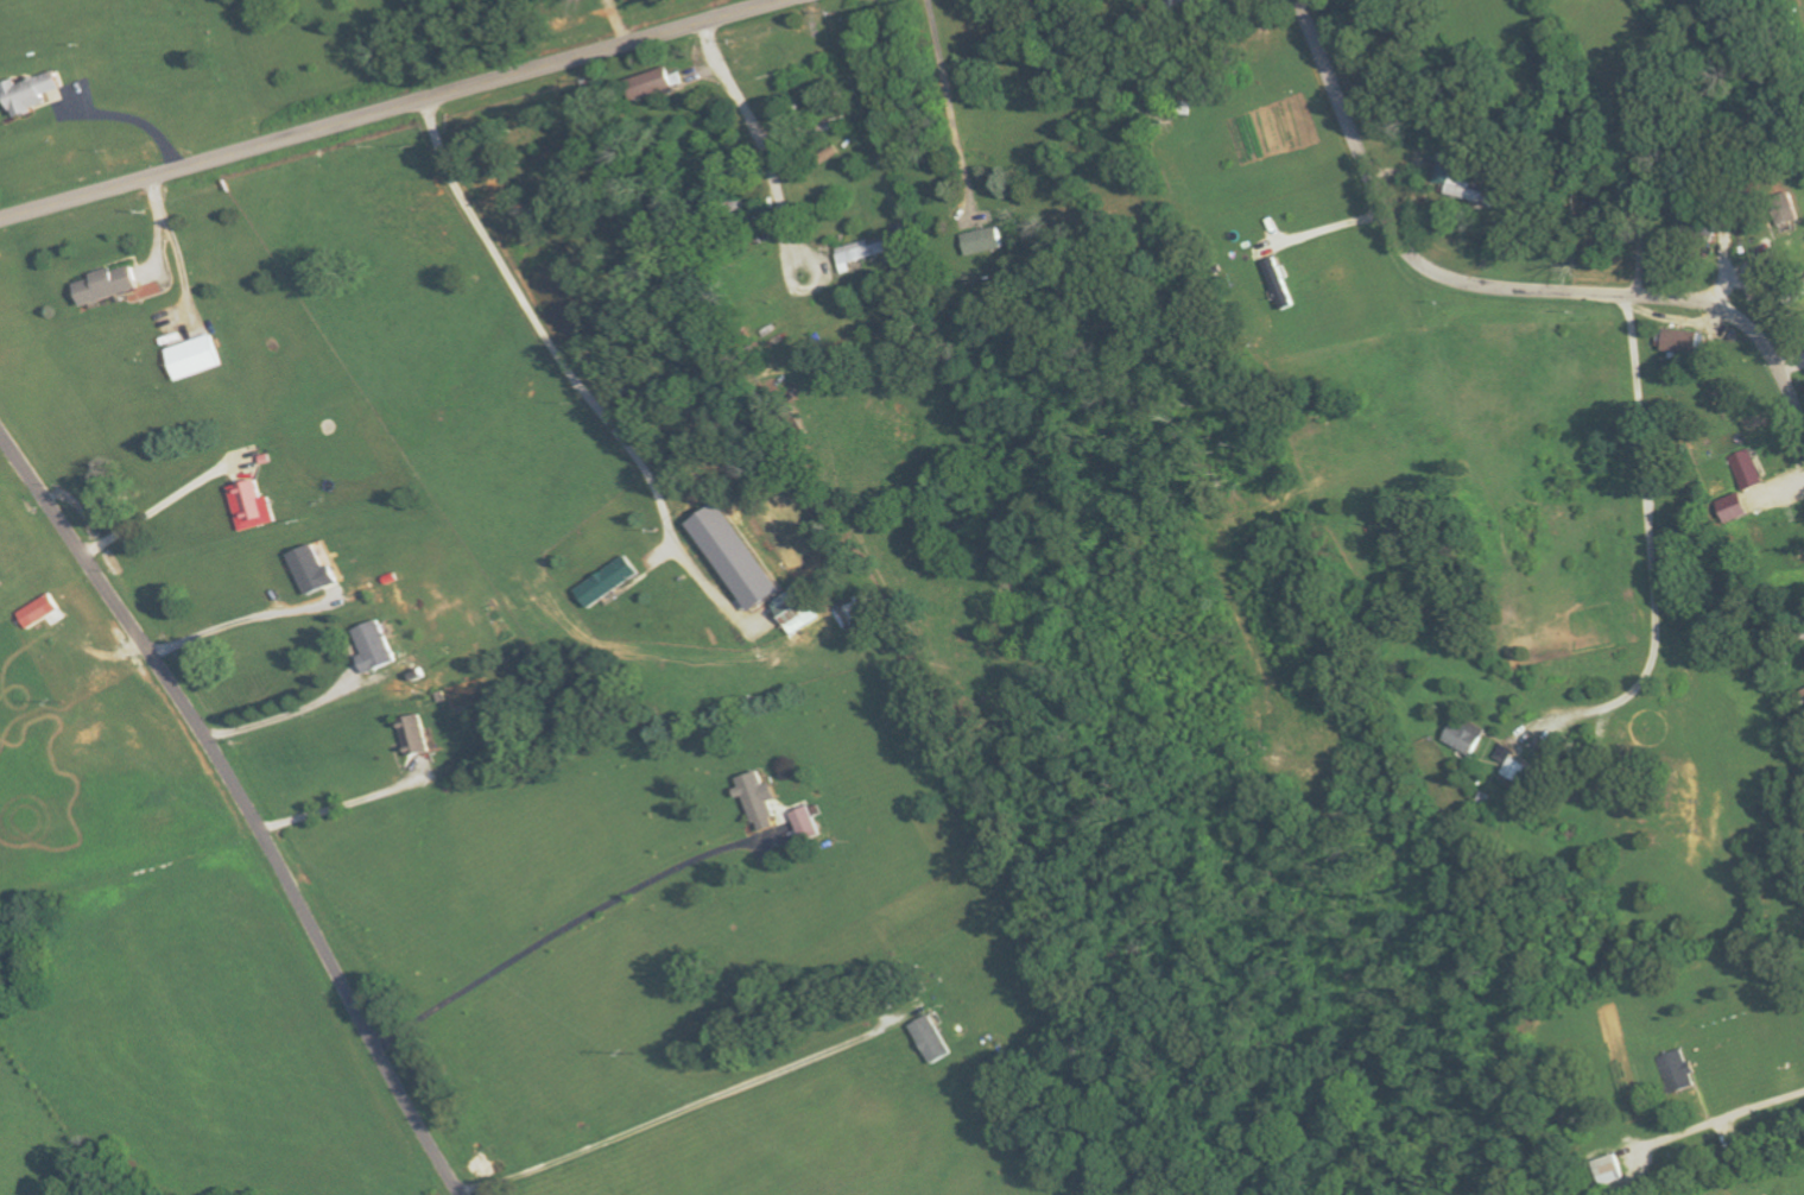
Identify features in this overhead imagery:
building: (1188, 1)
building: (652, 83)
building: (30, 93)
road: (947, 94)
road: (393, 109)
building: (825, 156)
building: (1467, 190)
building: (983, 240)
building: (860, 253)
building: (107, 284)
road: (1499, 289)
road: (538, 321)
building: (194, 356)
road: (880, 440)
building: (1745, 469)
building: (253, 505)
building: (1732, 507)
road: (152, 508)
road: (1646, 561)
building: (314, 569)
building: (748, 575)
building: (607, 581)
building: (795, 609)
building: (39, 611)
road: (221, 627)
road: (133, 631)
building: (374, 646)
road: (272, 716)
building: (414, 734)
building: (1466, 735)
building: (758, 799)
road: (336, 805)
building: (805, 823)
road: (251, 833)
road: (563, 928)
road: (356, 1013)
building: (931, 1039)
building: (1679, 1070)
road: (679, 1112)
road: (1715, 1125)
building: (1610, 1170)

